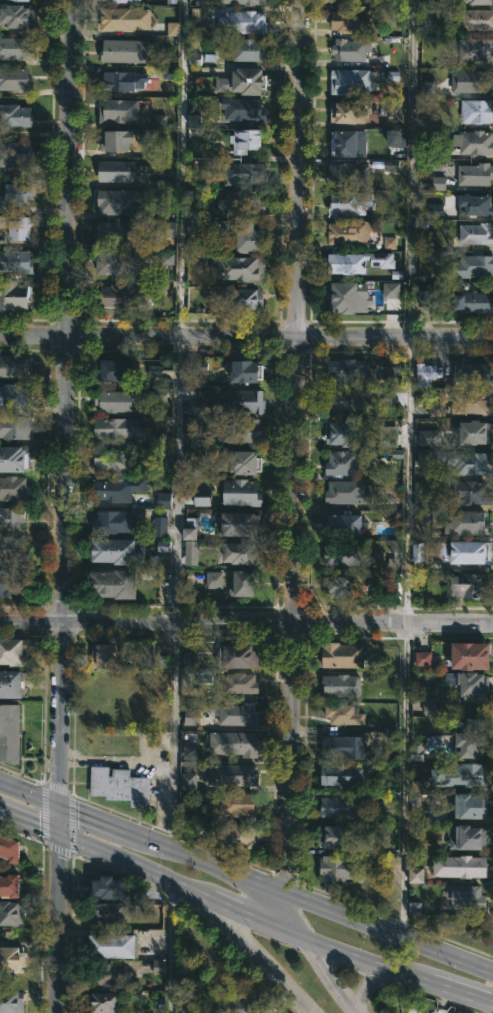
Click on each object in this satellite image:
building: (19, 0)
building: (365, 0)
building: (123, 1)
building: (170, 1)
building: (246, 1)
building: (480, 2)
building: (343, 3)
building: (17, 16)
building: (129, 19)
building: (476, 19)
building: (198, 20)
building: (355, 20)
building: (241, 22)
building: (172, 29)
building: (16, 48)
building: (475, 49)
building: (119, 50)
building: (246, 50)
building: (350, 50)
building: (169, 73)
building: (14, 78)
building: (124, 81)
building: (351, 81)
building: (476, 81)
building: (242, 82)
building: (243, 109)
building: (117, 110)
building: (476, 110)
building: (347, 112)
building: (15, 116)
building: (158, 120)
building: (193, 121)
building: (395, 138)
building: (117, 140)
building: (245, 141)
building: (348, 142)
building: (474, 142)
building: (17, 155)
road: (410, 167)
building: (117, 171)
building: (244, 173)
building: (350, 173)
building: (475, 174)
building: (437, 183)
building: (15, 194)
building: (118, 202)
building: (241, 202)
building: (349, 203)
building: (475, 206)
building: (433, 210)
building: (16, 227)
building: (166, 228)
building: (118, 232)
building: (350, 233)
building: (476, 233)
building: (249, 239)
building: (389, 243)
building: (167, 258)
building: (16, 261)
building: (109, 263)
building: (346, 263)
building: (472, 267)
building: (237, 268)
building: (390, 290)
building: (13, 297)
building: (123, 297)
building: (346, 298)
building: (425, 298)
building: (246, 299)
building: (473, 302)
road: (67, 311)
road: (297, 311)
road: (246, 334)
building: (13, 367)
building: (194, 367)
building: (113, 371)
building: (154, 371)
building: (348, 371)
building: (243, 372)
building: (424, 374)
building: (472, 374)
building: (393, 375)
building: (159, 395)
building: (16, 398)
building: (421, 400)
building: (115, 401)
building: (344, 401)
building: (245, 402)
building: (472, 403)
building: (194, 407)
building: (436, 410)
road: (177, 424)
building: (15, 428)
building: (116, 428)
building: (244, 433)
building: (475, 433)
building: (342, 436)
building: (387, 437)
building: (428, 438)
building: (198, 439)
building: (163, 440)
building: (425, 457)
building: (14, 458)
building: (112, 462)
building: (467, 462)
building: (343, 463)
building: (241, 464)
building: (193, 467)
road: (405, 478)
building: (14, 489)
building: (118, 491)
building: (241, 493)
building: (346, 493)
building: (469, 494)
building: (163, 500)
building: (201, 501)
building: (11, 519)
building: (467, 523)
building: (114, 524)
building: (238, 525)
building: (344, 526)
building: (159, 527)
building: (189, 534)
building: (162, 545)
building: (435, 548)
building: (13, 549)
building: (190, 552)
building: (418, 552)
building: (116, 553)
building: (240, 553)
building: (471, 554)
building: (343, 555)
building: (394, 555)
building: (213, 580)
building: (13, 582)
building: (241, 583)
building: (113, 586)
building: (342, 588)
building: (467, 588)
road: (246, 622)
building: (12, 652)
building: (106, 654)
building: (239, 654)
building: (342, 654)
building: (470, 657)
building: (422, 658)
building: (188, 661)
building: (240, 682)
building: (341, 683)
building: (468, 683)
building: (10, 686)
building: (429, 706)
building: (236, 712)
building: (340, 713)
building: (191, 717)
building: (9, 733)
building: (470, 737)
building: (238, 743)
building: (344, 746)
building: (416, 750)
building: (188, 752)
building: (235, 774)
building: (341, 774)
building: (461, 774)
road: (289, 777)
road: (404, 780)
building: (188, 781)
building: (119, 785)
building: (237, 804)
traffic signals: (60, 806)
building: (338, 806)
building: (470, 808)
road: (60, 817)
building: (467, 835)
building: (238, 837)
road: (143, 838)
building: (339, 838)
traffic signals: (60, 839)
building: (9, 848)
building: (465, 866)
building: (338, 867)
building: (415, 875)
building: (9, 885)
building: (106, 886)
road: (192, 892)
building: (467, 898)
building: (10, 912)
building: (105, 913)
road: (389, 934)
building: (112, 945)
road: (168, 947)
road: (259, 954)
building: (13, 959)
building: (158, 967)
road: (324, 971)
building: (105, 974)
road: (363, 985)
road: (439, 987)
road: (280, 995)
building: (11, 1001)
building: (105, 1002)
building: (235, 1005)
building: (187, 1008)
building: (206, 1009)

